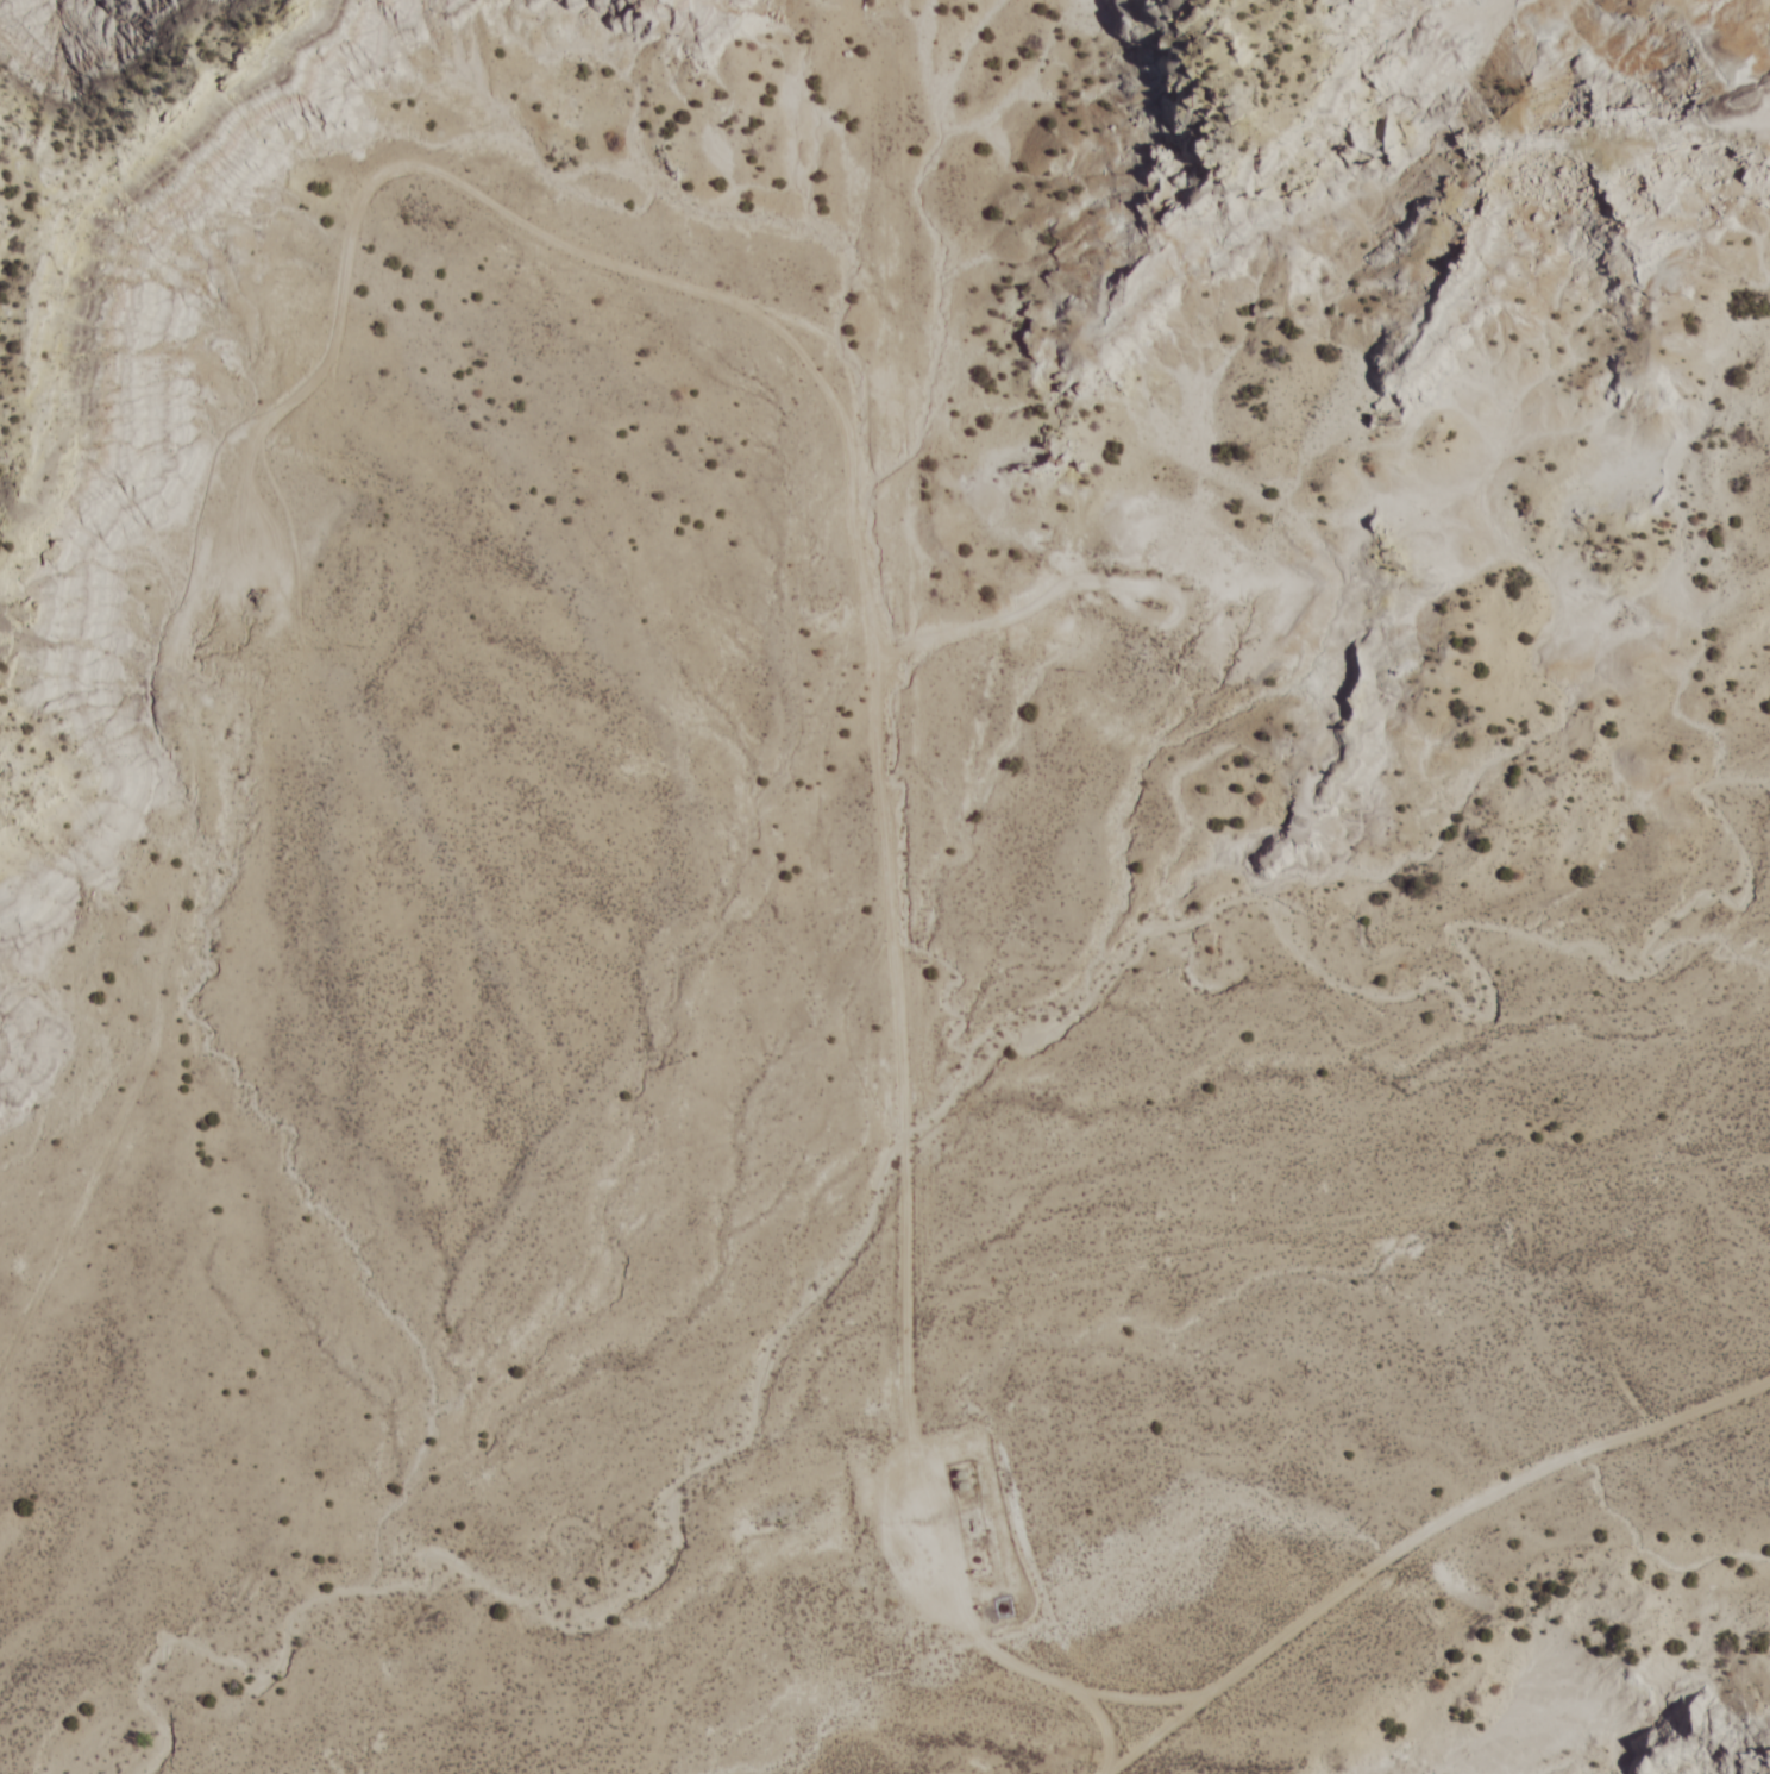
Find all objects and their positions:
road: (1416, 1542)

